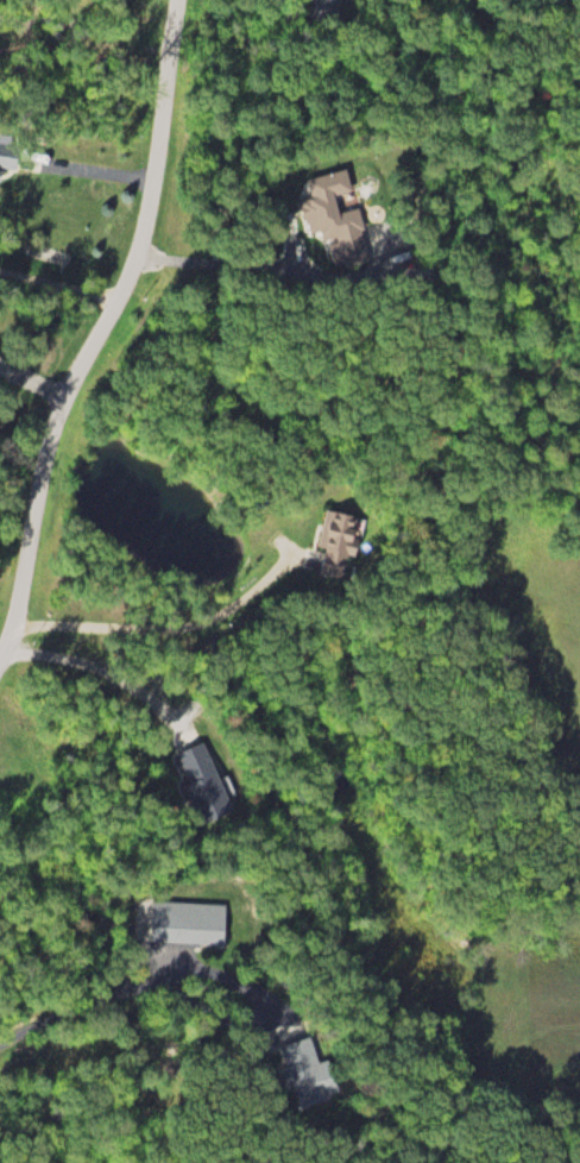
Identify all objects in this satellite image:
building: (11, 161)
road: (103, 171)
building: (341, 216)
road: (222, 264)
road: (96, 332)
road: (42, 381)
building: (351, 545)
road: (169, 628)
road: (101, 673)
building: (213, 784)
building: (327, 1088)

